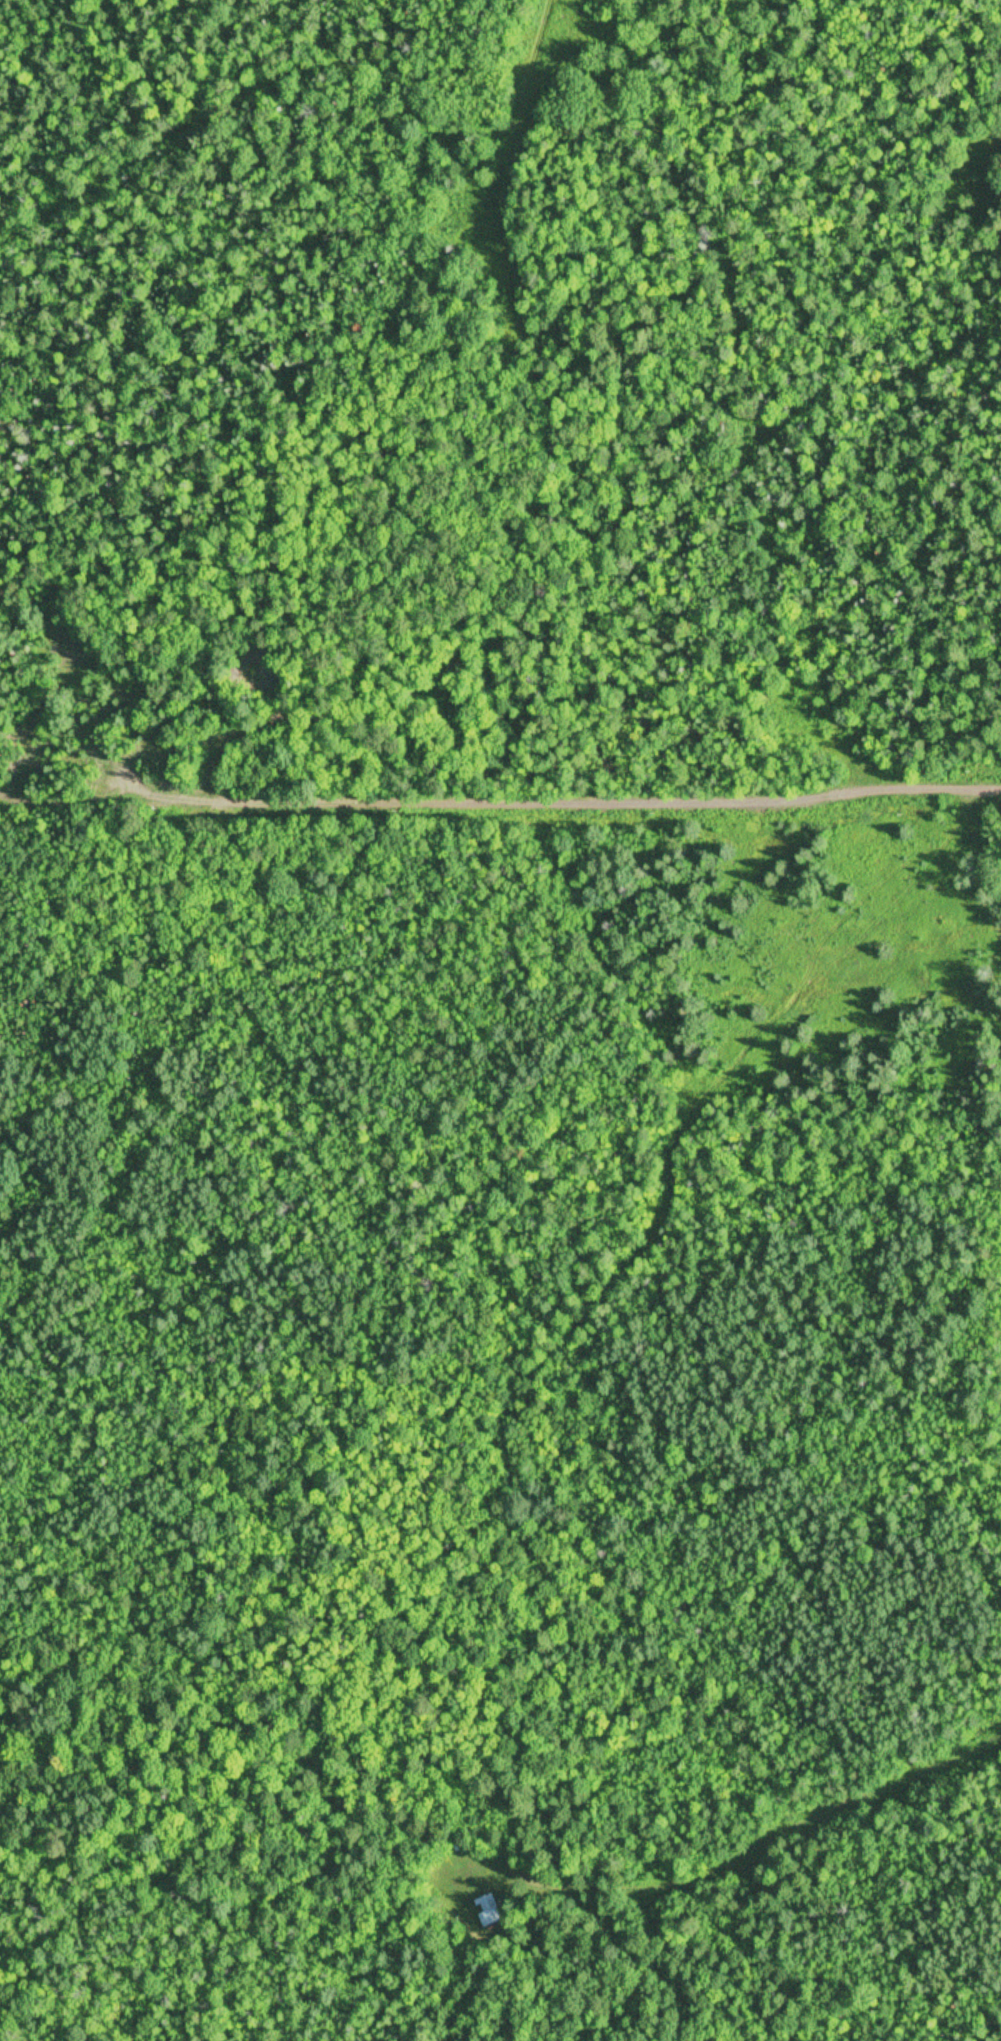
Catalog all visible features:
road: (146, 679)
building: (489, 1905)

